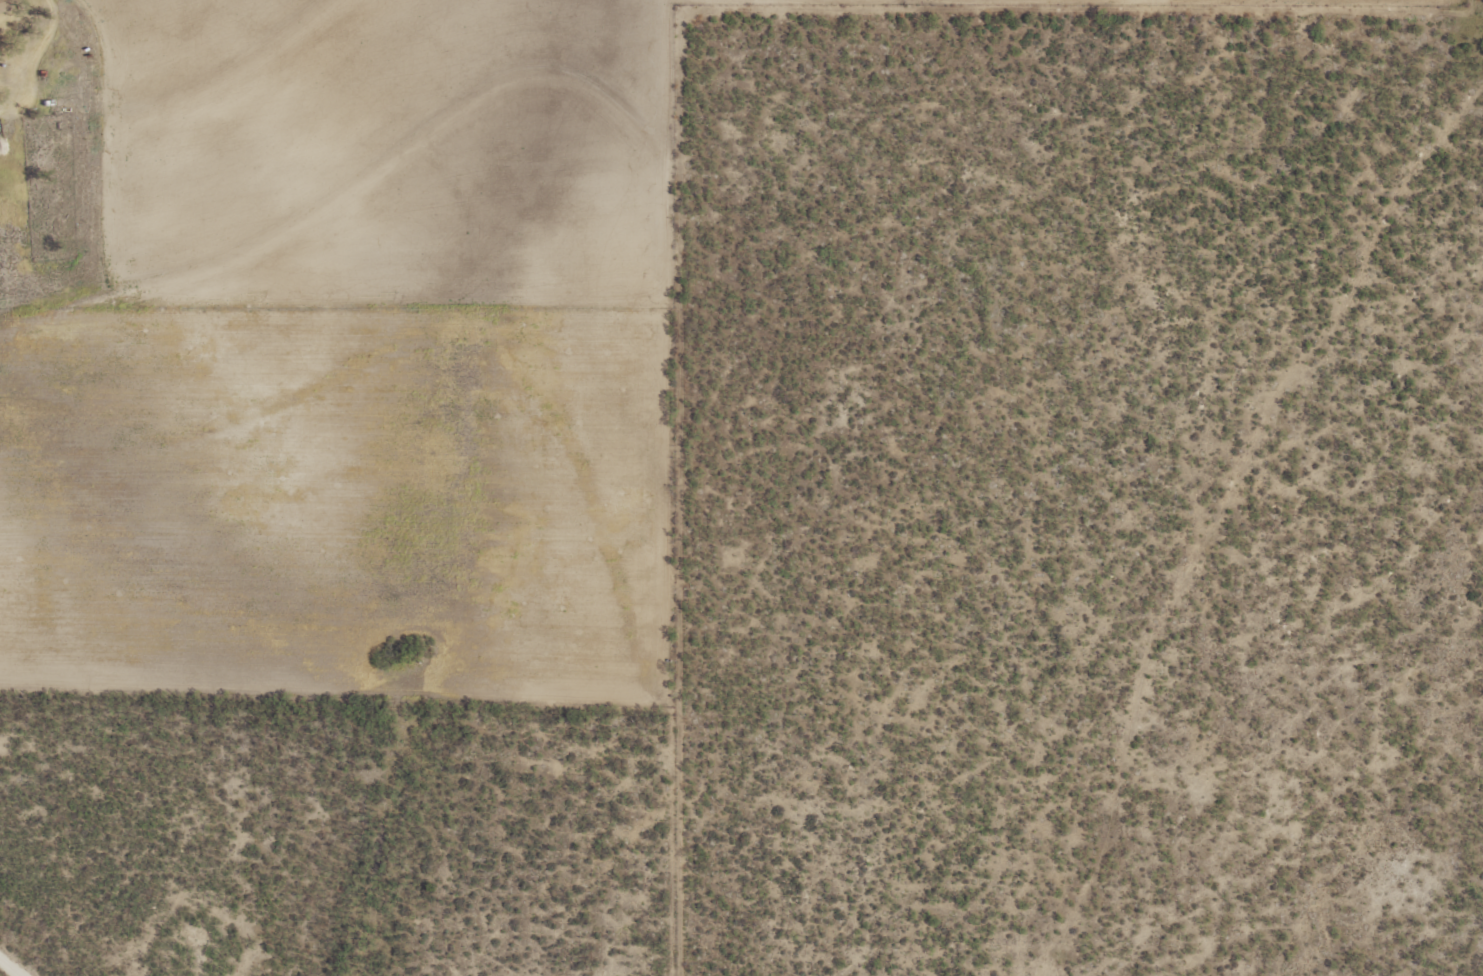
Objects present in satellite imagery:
building: (2, 5)

